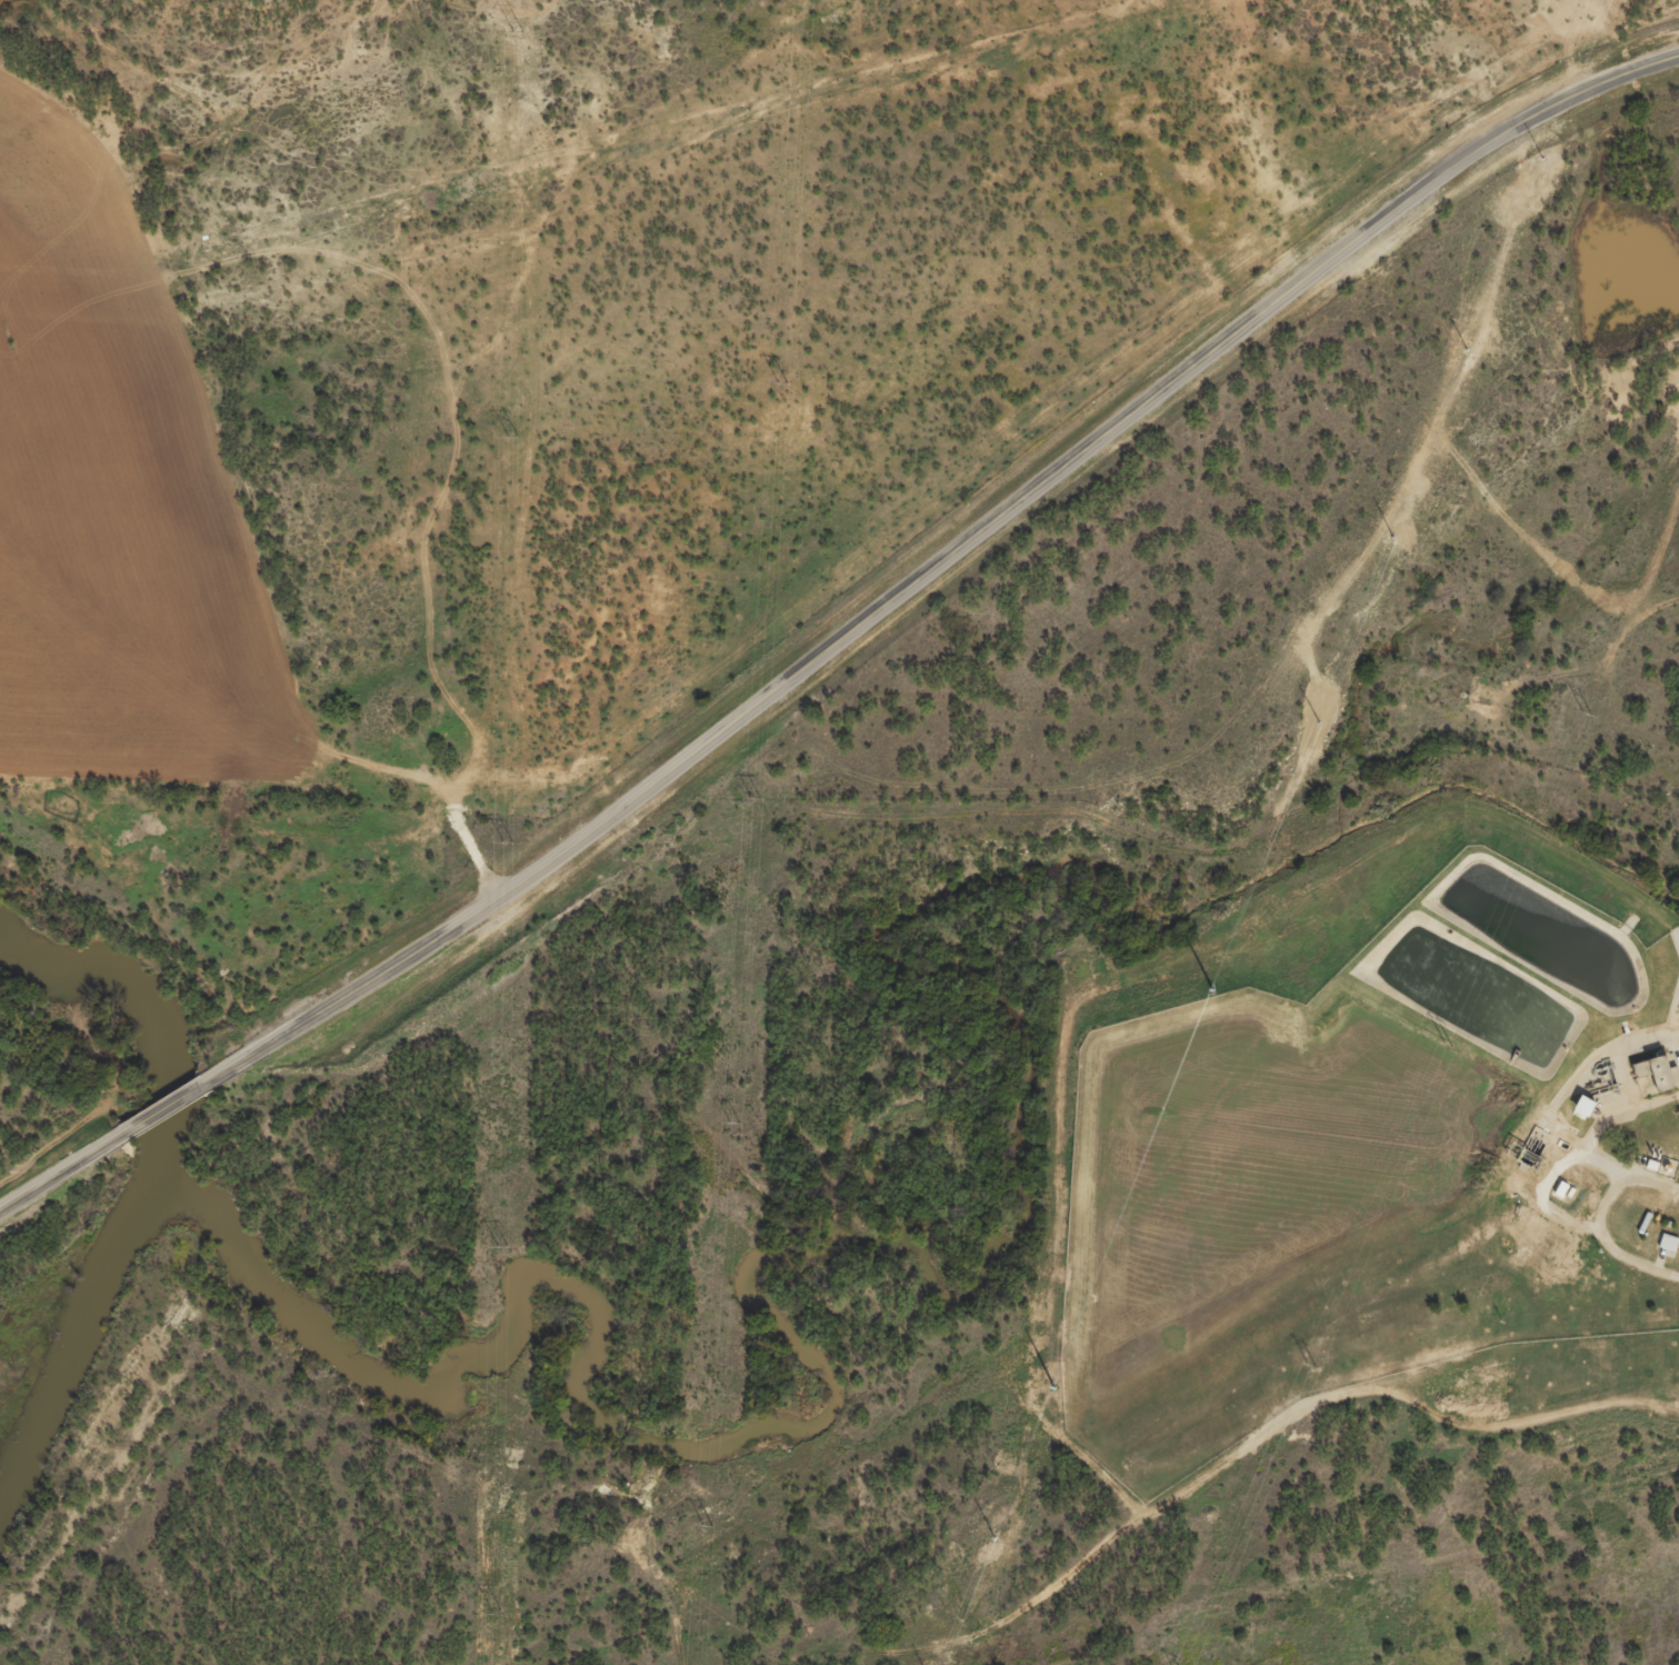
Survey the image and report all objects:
power tower: (516, 31)
power tower: (780, 381)
power tower: (511, 437)
road: (940, 561)
power tower: (1585, 712)
power tower: (753, 798)
power tower: (504, 841)
power tower: (1446, 1045)
building: (1657, 1083)
road: (167, 1109)
building: (1588, 1115)
power tower: (732, 1121)
road: (1561, 1163)
road: (1628, 1170)
road: (61, 1174)
road: (1608, 1198)
power tower: (500, 1247)
building: (1669, 1252)
power tower: (1309, 1366)
power tower: (706, 1524)
power tower: (496, 1614)

